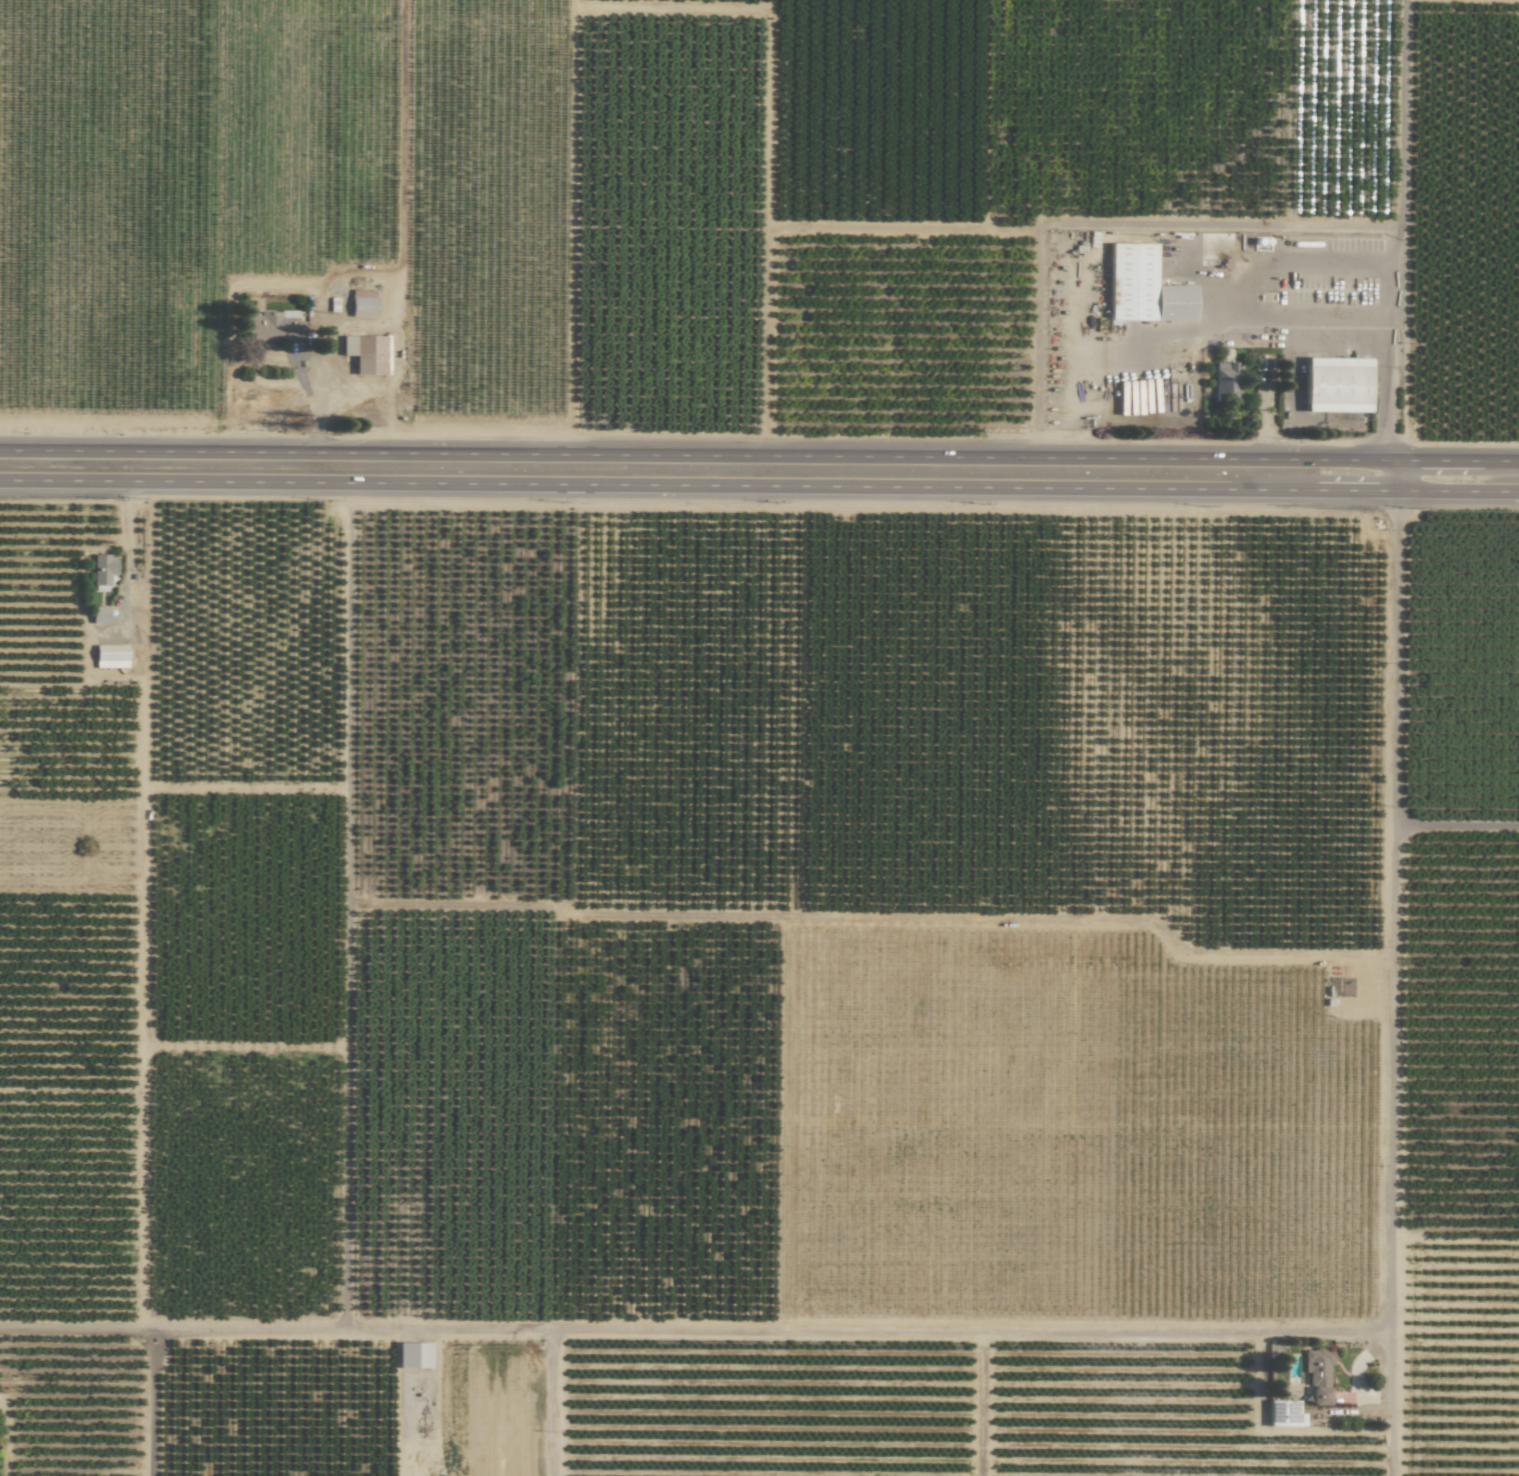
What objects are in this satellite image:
road: (1398, 230)
building: (1142, 288)
road: (1241, 298)
building: (362, 304)
building: (274, 326)
building: (366, 354)
road: (320, 372)
building: (1222, 380)
building: (1335, 385)
road: (759, 456)
road: (759, 486)
road: (127, 546)
building: (103, 569)
building: (99, 615)
building: (110, 656)
road: (1455, 825)
road: (1391, 922)
road: (692, 1330)
building: (413, 1355)
building: (1317, 1374)
road: (150, 1402)

